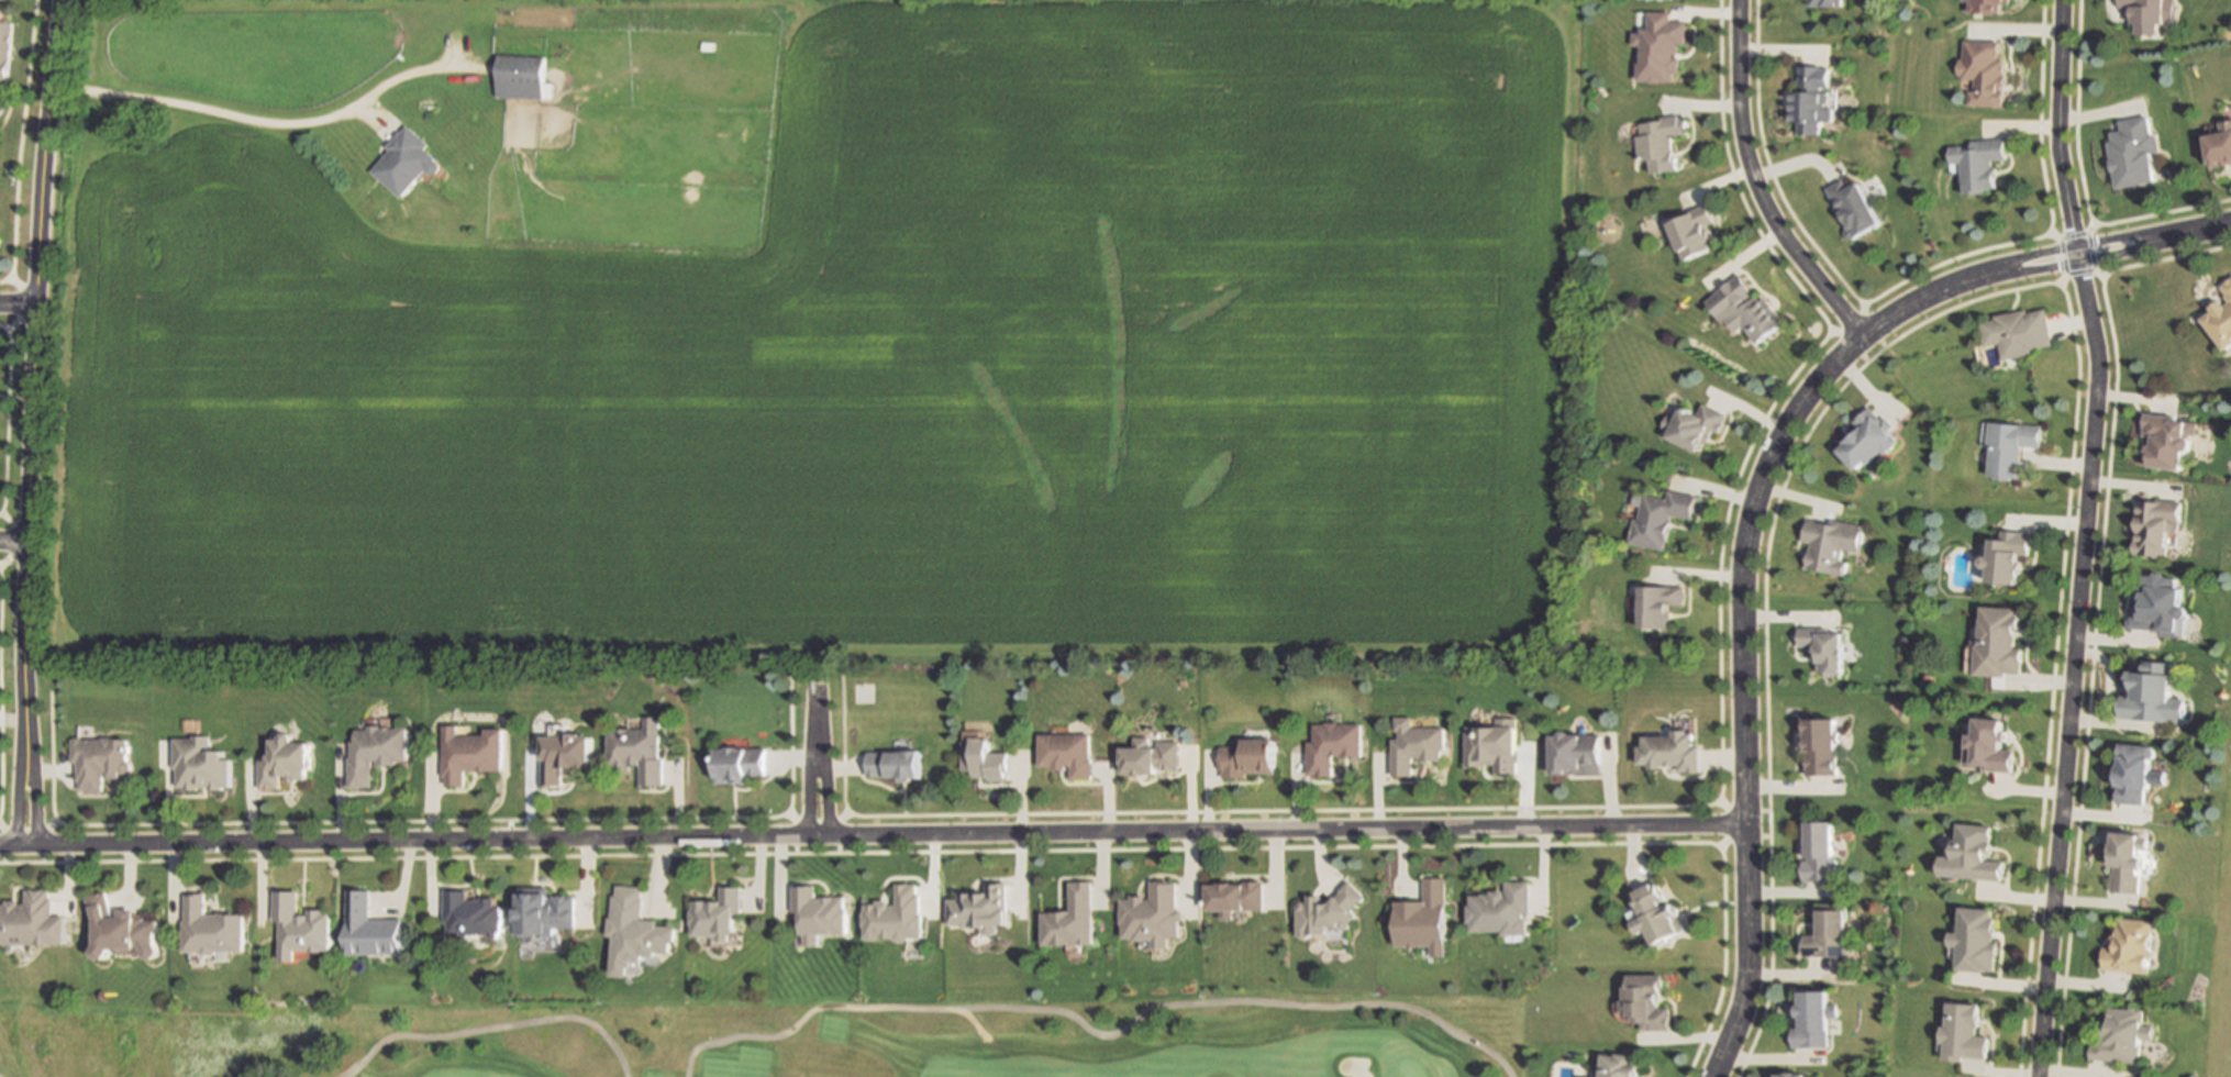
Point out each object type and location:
building: (1653, 0)
building: (1821, 3)
building: (1985, 4)
building: (2144, 11)
building: (1658, 43)
building: (4, 44)
building: (1982, 69)
building: (519, 71)
building: (1810, 98)
building: (1, 109)
road: (219, 112)
building: (136, 120)
building: (1661, 142)
building: (2218, 144)
building: (2131, 147)
building: (403, 159)
building: (1977, 163)
road: (1750, 182)
building: (1853, 207)
road: (2193, 229)
building: (1691, 232)
building: (0, 242)
road: (2072, 246)
road: (2165, 259)
road: (2075, 260)
road: (20, 304)
building: (1744, 306)
building: (2220, 313)
building: (2018, 330)
road: (35, 366)
building: (1695, 423)
building: (1868, 434)
building: (2166, 435)
building: (2009, 445)
building: (1658, 515)
building: (2155, 523)
road: (2080, 536)
building: (1831, 542)
road: (13, 545)
building: (2005, 552)
building: (1657, 602)
building: (2156, 602)
road: (1736, 615)
building: (1995, 640)
building: (1821, 646)
road: (2087, 677)
building: (2149, 691)
road: (811, 702)
building: (1817, 742)
building: (1989, 742)
building: (1411, 743)
building: (1328, 744)
building: (1488, 746)
building: (639, 748)
building: (1667, 748)
building: (379, 750)
building: (471, 751)
building: (1063, 751)
building: (1572, 752)
building: (566, 753)
building: (1145, 754)
building: (979, 756)
building: (1243, 758)
building: (99, 759)
building: (287, 760)
building: (888, 760)
building: (202, 762)
building: (741, 762)
building: (2132, 770)
road: (803, 780)
road: (820, 780)
road: (13, 789)
road: (30, 789)
road: (869, 839)
building: (1816, 850)
building: (1972, 852)
building: (2124, 858)
building: (1231, 893)
building: (1499, 907)
building: (1325, 909)
building: (819, 911)
building: (719, 912)
building: (1652, 912)
building: (542, 913)
building: (896, 913)
building: (1151, 914)
building: (1067, 915)
building: (1421, 915)
building: (469, 917)
building: (33, 919)
building: (122, 925)
building: (299, 926)
building: (208, 929)
building: (369, 929)
building: (636, 929)
building: (1824, 934)
park: (2219, 936)
building: (1974, 937)
building: (2128, 944)
building: (1643, 1000)
building: (1810, 1017)
road: (491, 1028)
building: (1962, 1031)
road: (1092, 1033)
building: (2120, 1035)
park: (780, 1040)
building: (1617, 1065)
park: (1402, 1072)
building: (1788, 1073)

